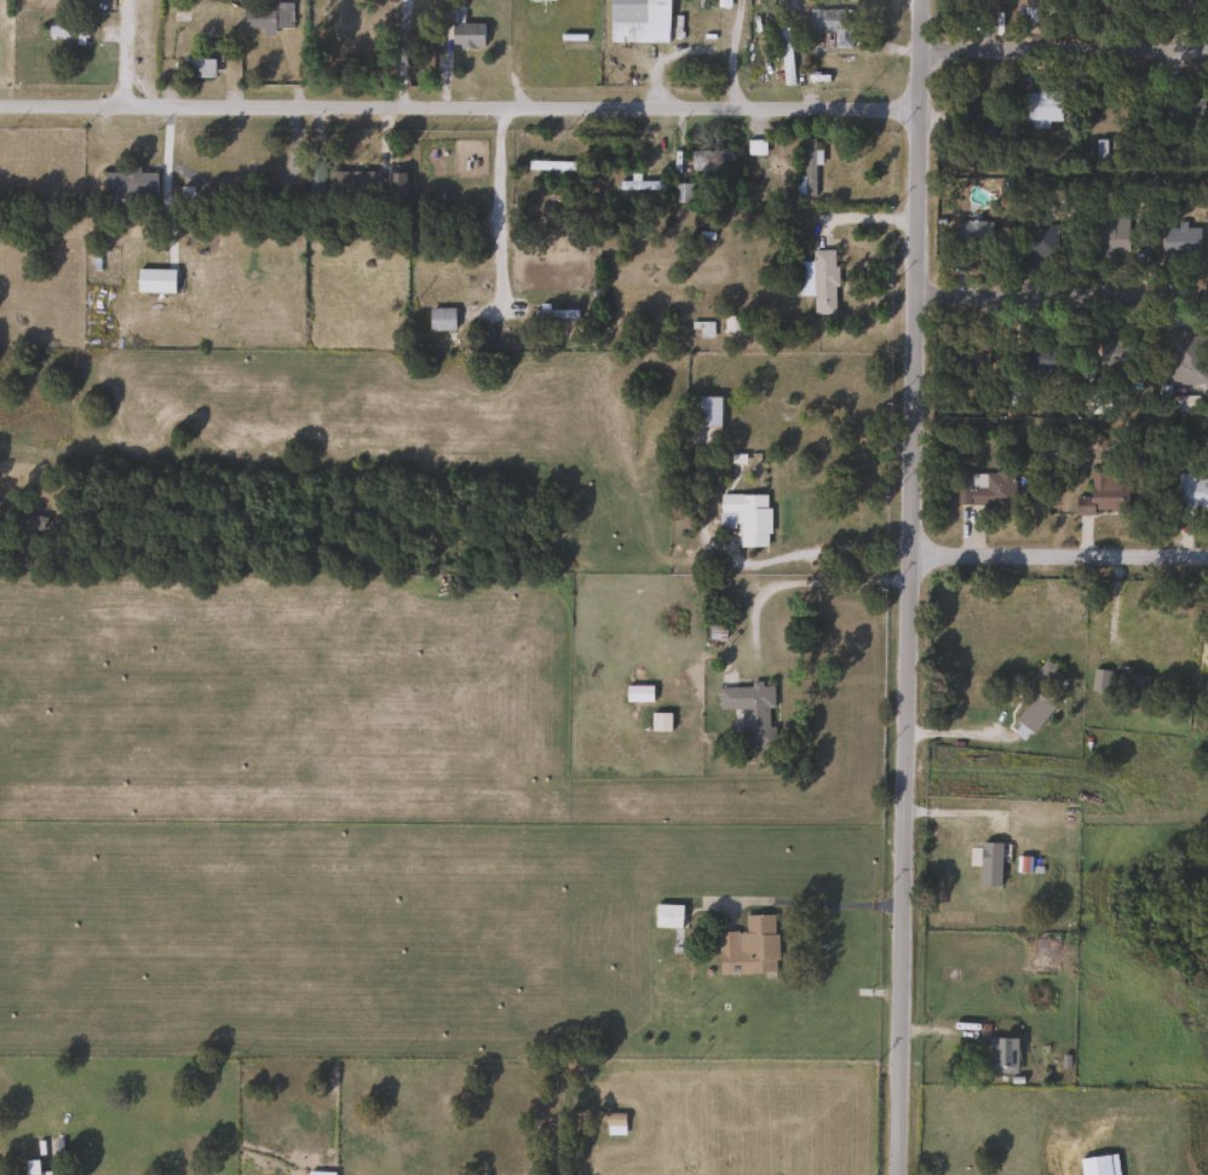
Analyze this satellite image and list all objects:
building: (1029, 12)
building: (278, 15)
building: (642, 16)
building: (190, 24)
building: (830, 27)
building: (466, 34)
road: (1063, 38)
road: (731, 47)
road: (121, 51)
road: (405, 51)
building: (786, 63)
building: (197, 68)
road: (459, 100)
building: (1041, 106)
building: (706, 160)
building: (550, 167)
building: (807, 168)
building: (130, 183)
building: (350, 190)
building: (681, 194)
road: (495, 198)
road: (865, 218)
building: (436, 227)
building: (1108, 236)
building: (1179, 242)
building: (1039, 243)
building: (819, 281)
road: (1059, 295)
building: (554, 315)
building: (441, 319)
building: (1118, 352)
building: (1042, 358)
building: (1186, 358)
building: (707, 411)
road: (1059, 421)
building: (985, 489)
building: (1189, 495)
building: (1103, 496)
building: (744, 517)
building: (24, 531)
road: (809, 551)
road: (1058, 554)
road: (801, 582)
road: (905, 587)
building: (1134, 685)
building: (1037, 696)
building: (750, 713)
building: (658, 722)
road: (948, 731)
building: (989, 864)
road: (863, 905)
building: (667, 916)
building: (748, 946)
building: (1045, 952)
building: (1002, 1055)
building: (615, 1124)
building: (31, 1165)
building: (321, 1173)

